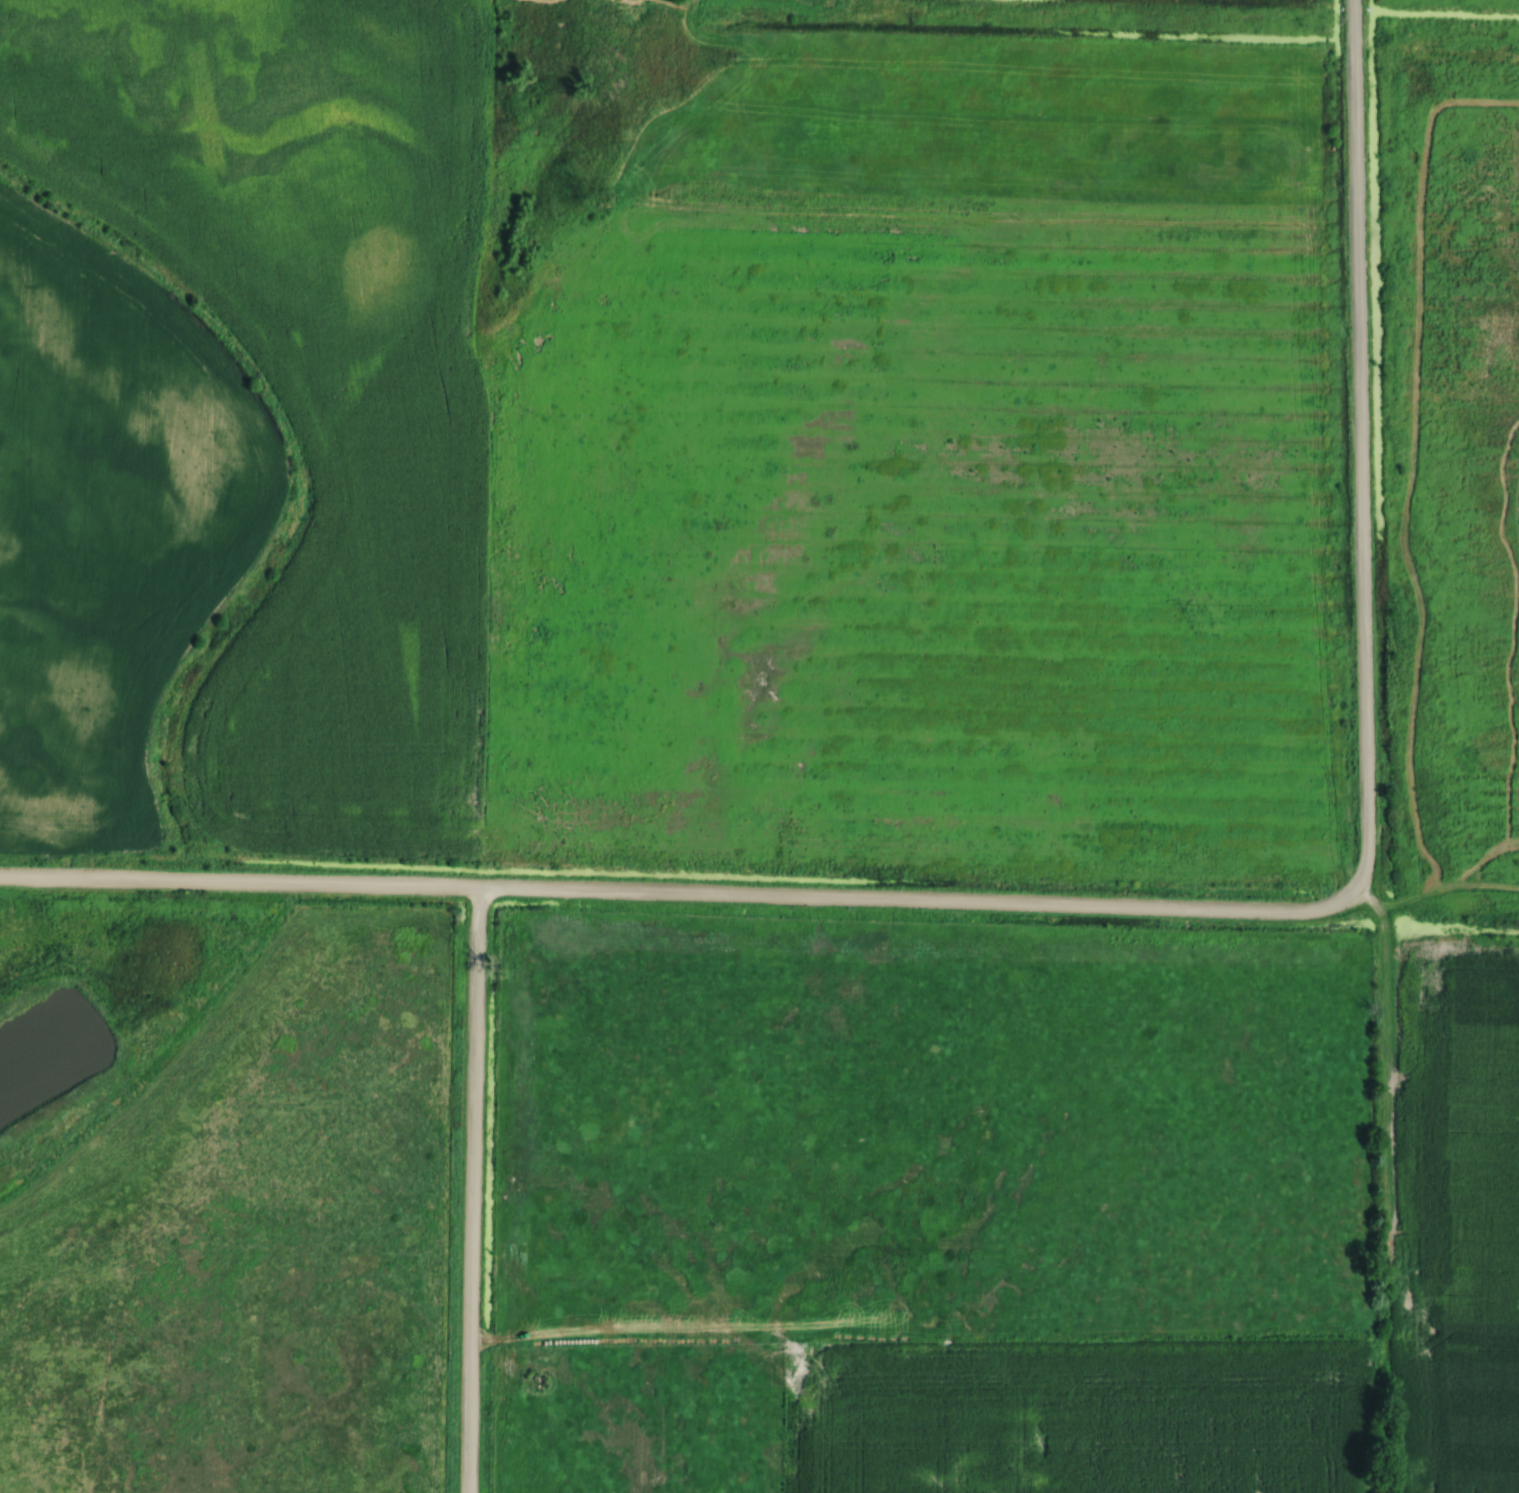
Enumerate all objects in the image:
road: (1358, 445)
road: (682, 891)
road: (475, 1189)

